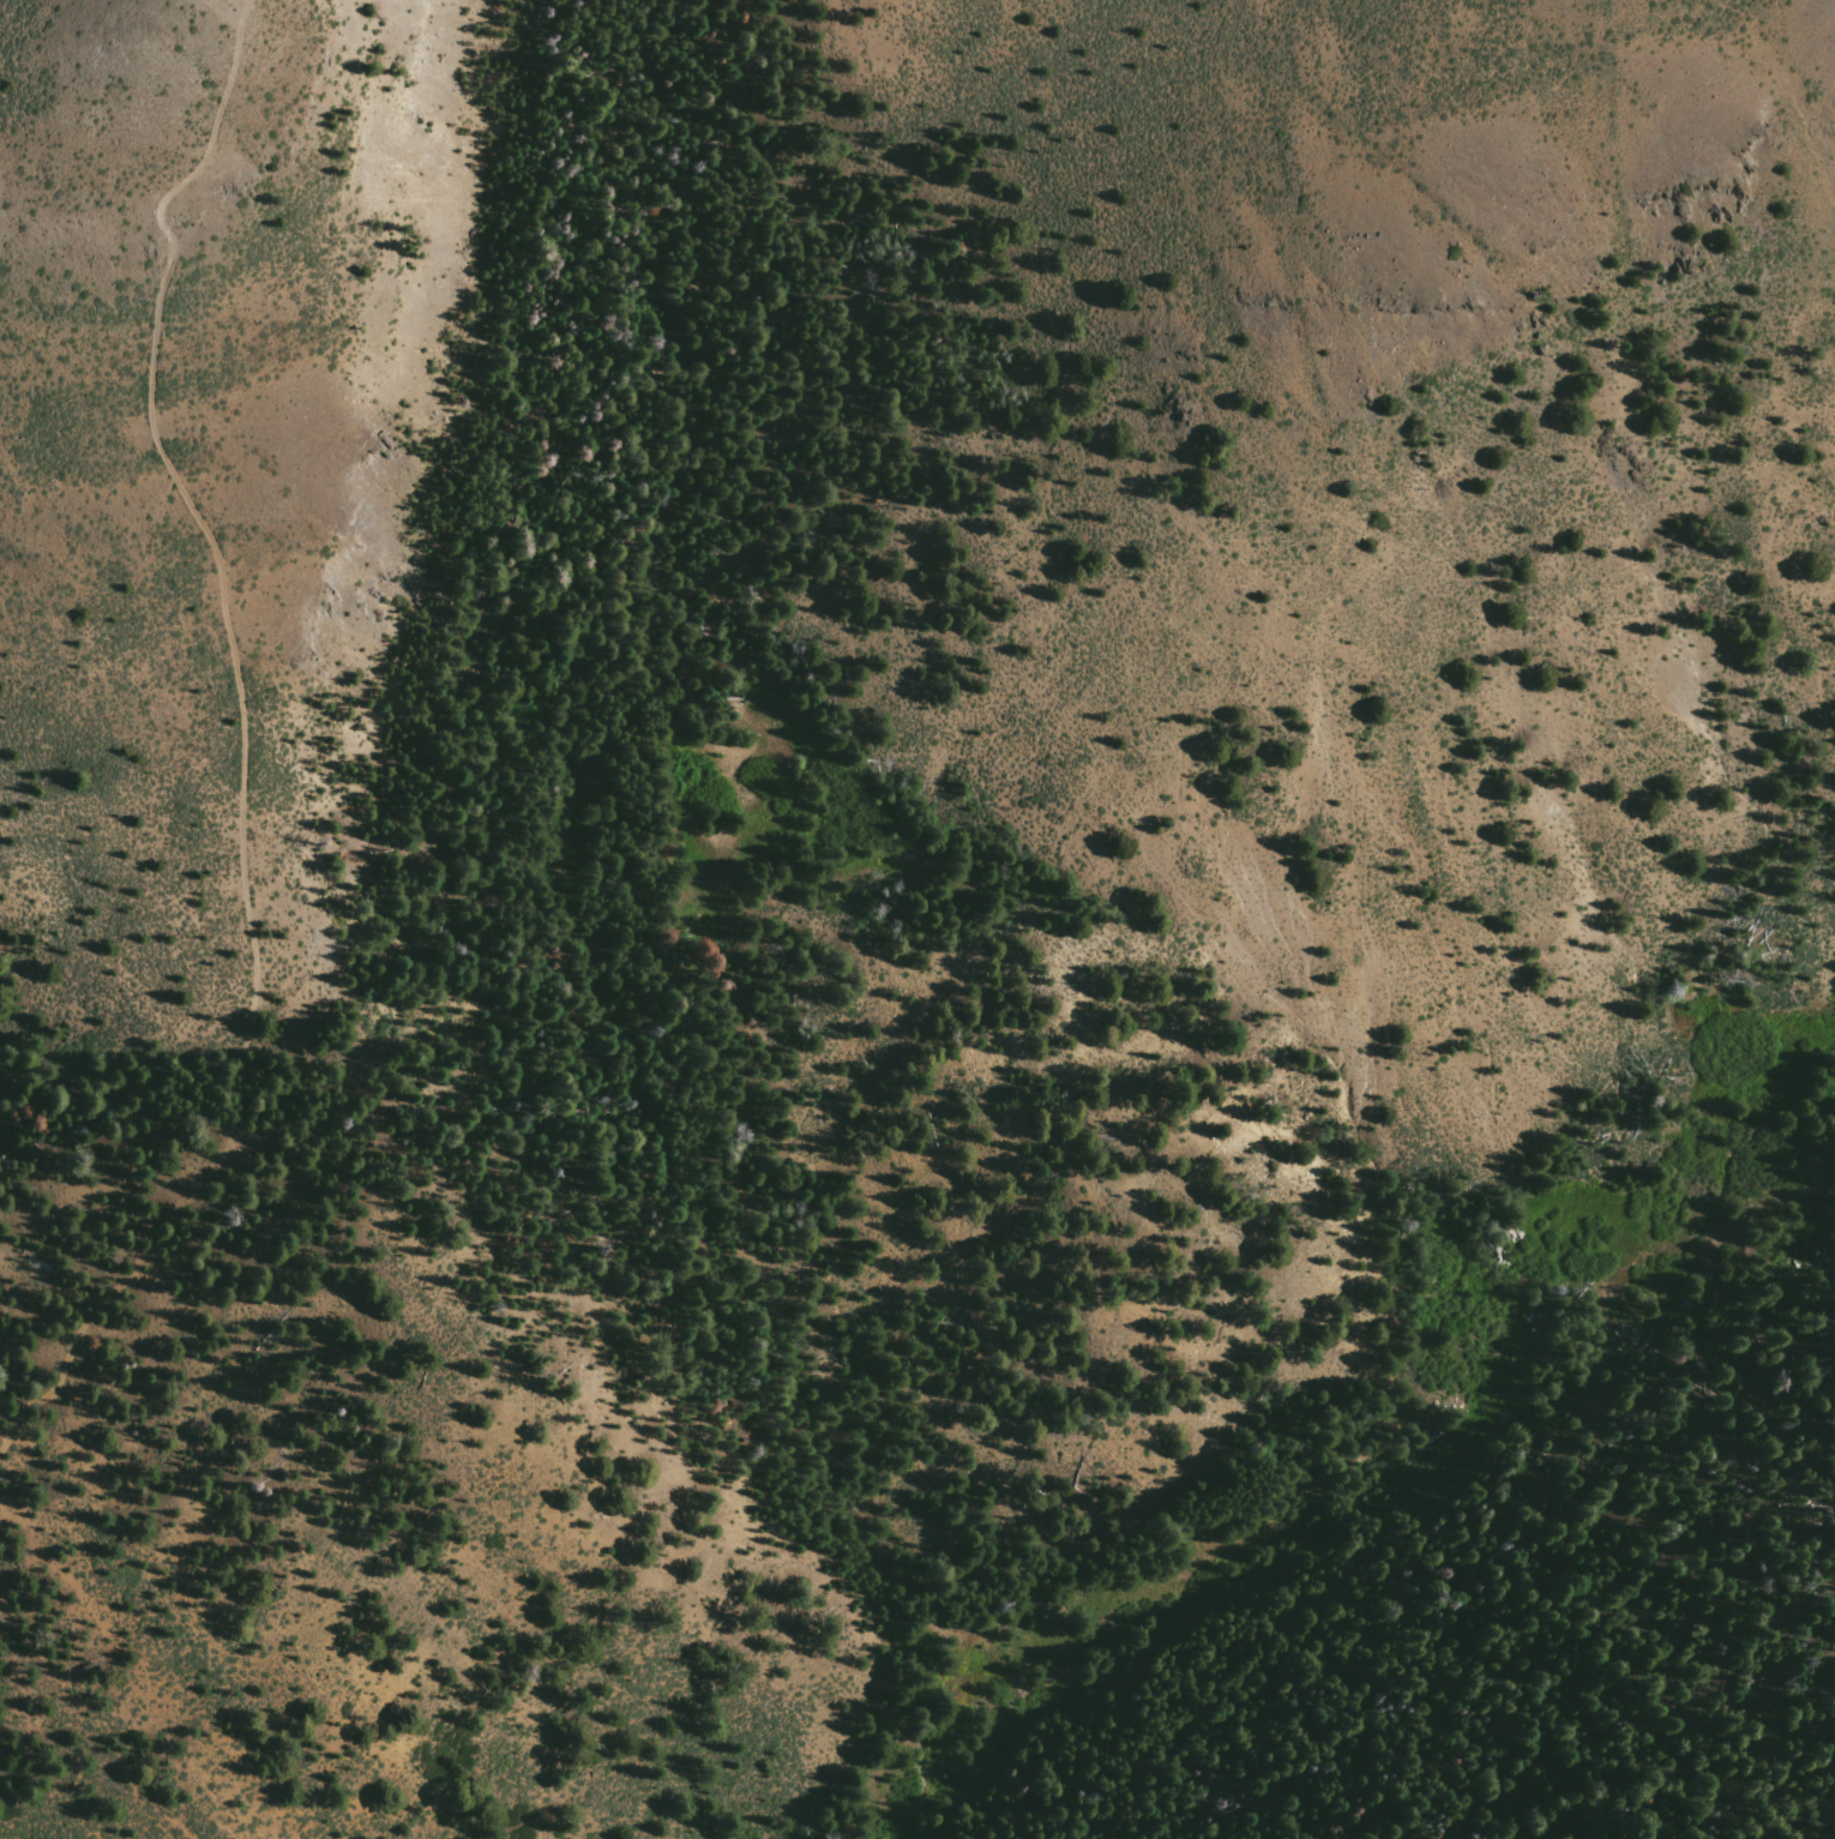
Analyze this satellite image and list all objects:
road: (240, 739)

